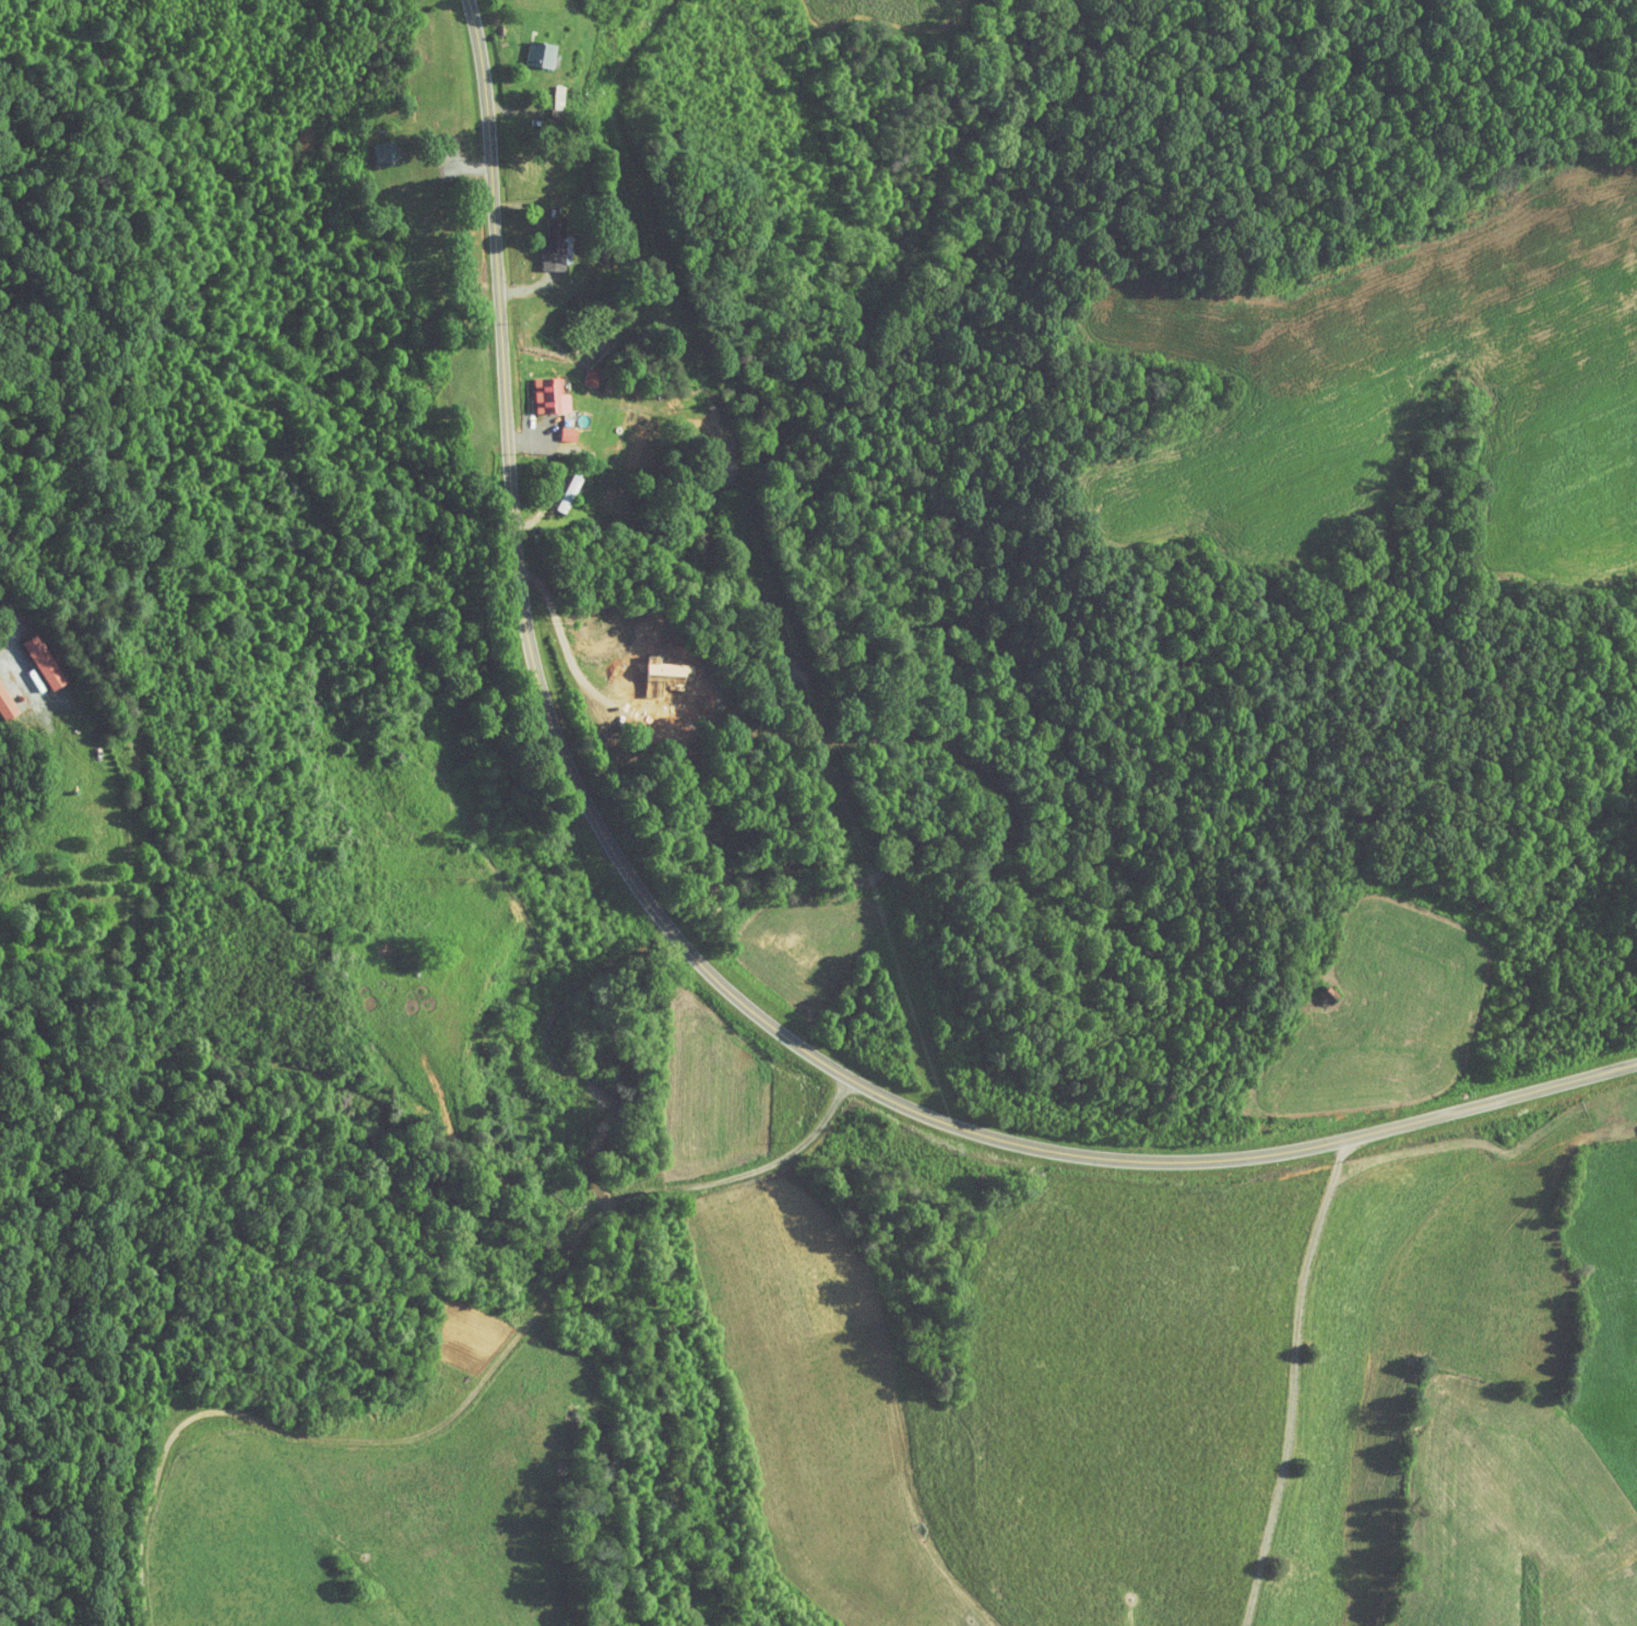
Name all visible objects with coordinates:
building: (525, 47)
building: (370, 146)
building: (536, 245)
building: (534, 389)
building: (551, 428)
building: (554, 487)
building: (28, 655)
road: (570, 668)
building: (0, 707)
road: (695, 959)

